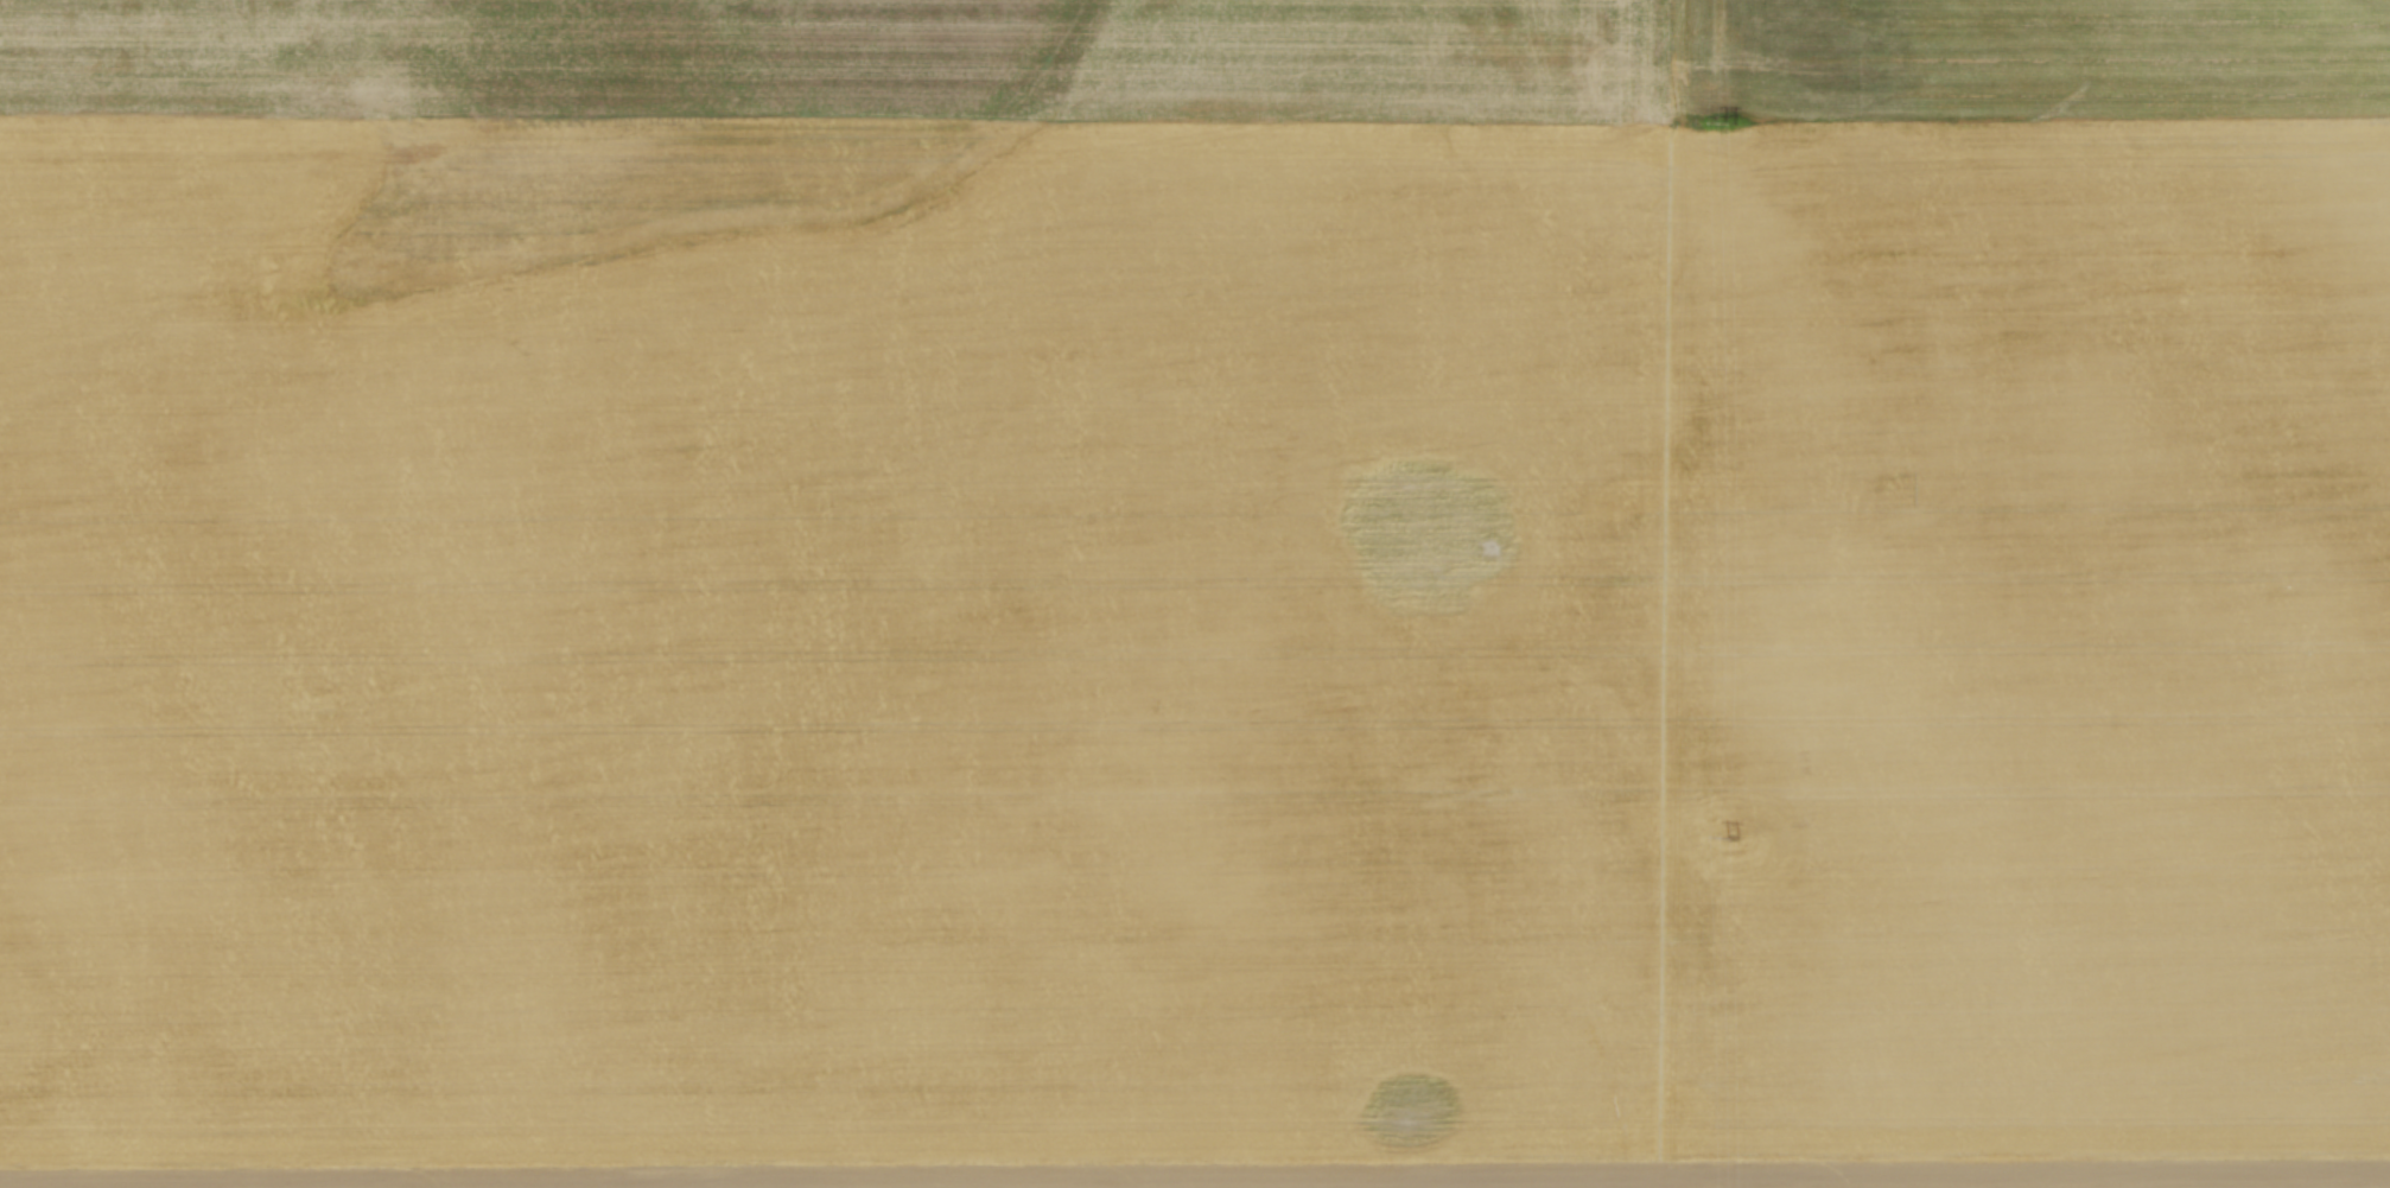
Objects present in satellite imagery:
power tower: (1730, 123)
crop: (1195, 593)
power tower: (1731, 838)

